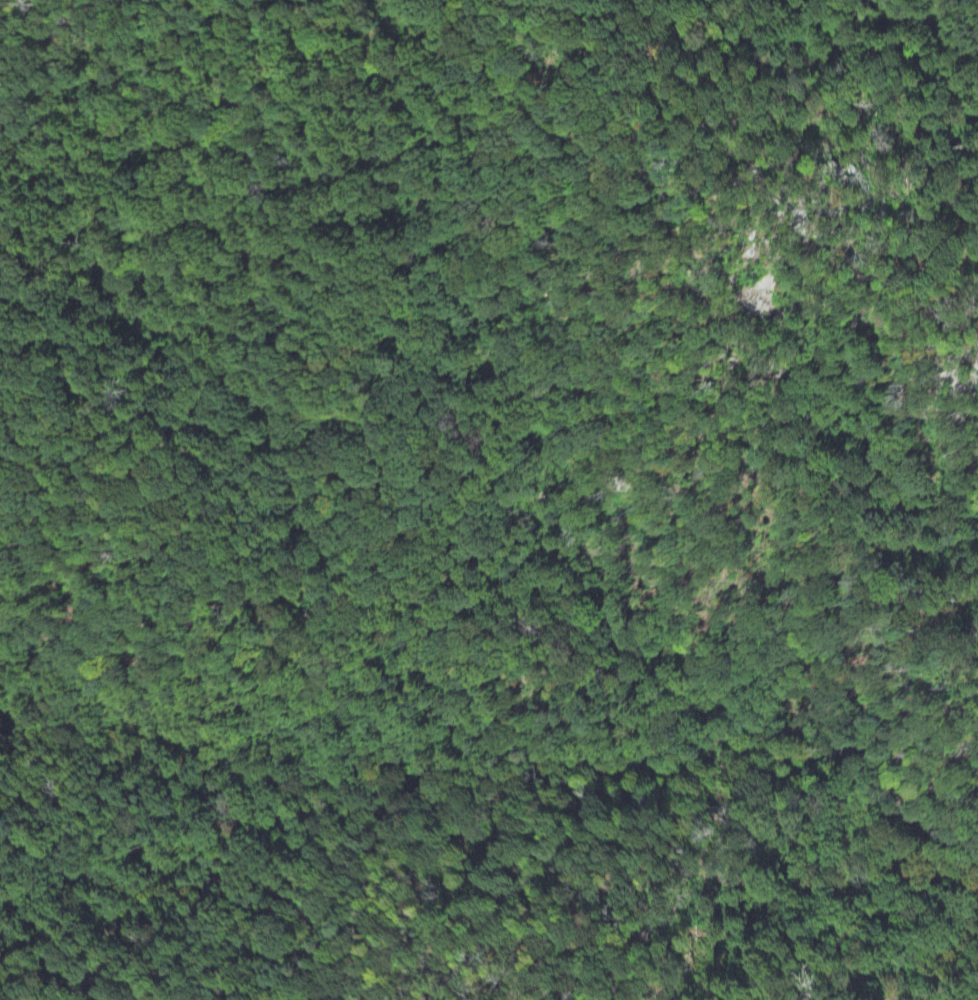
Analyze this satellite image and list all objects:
road: (635, 375)
road: (85, 910)

